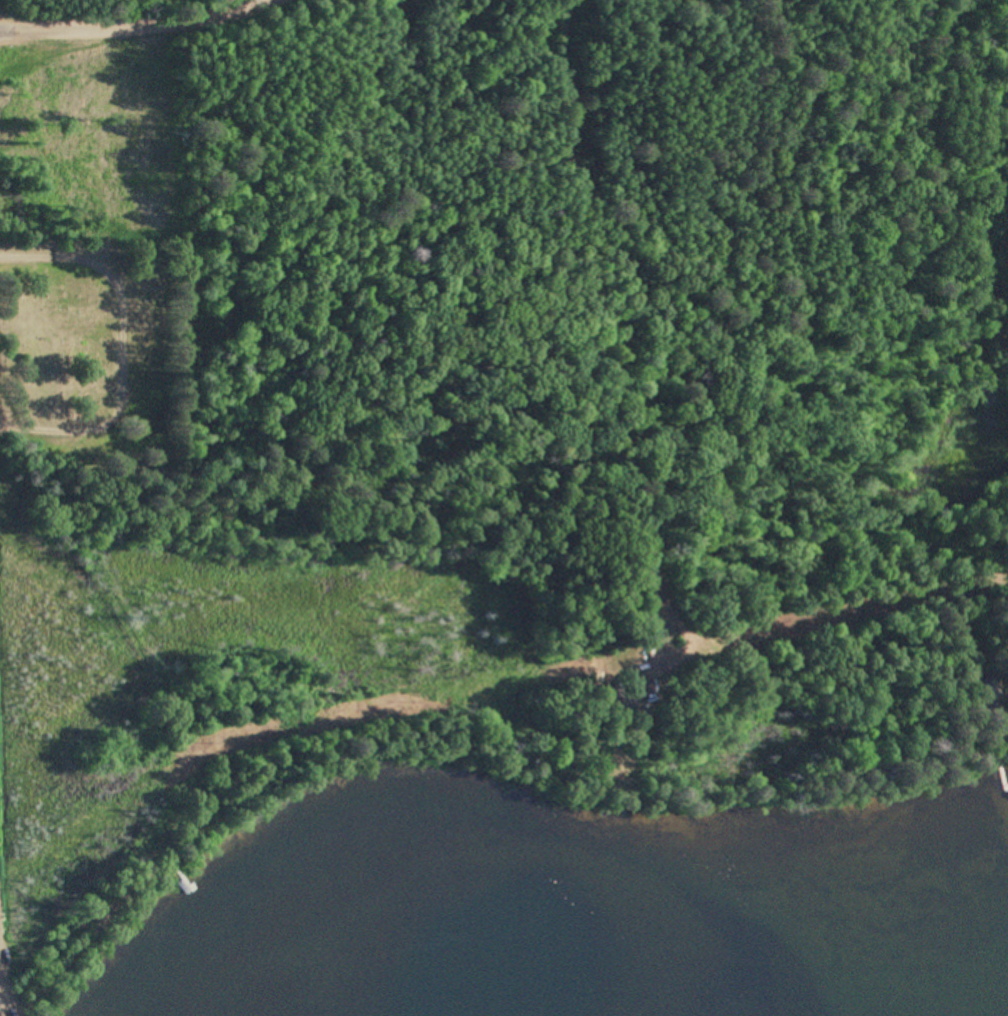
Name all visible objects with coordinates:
road: (140, 27)
park: (94, 344)

